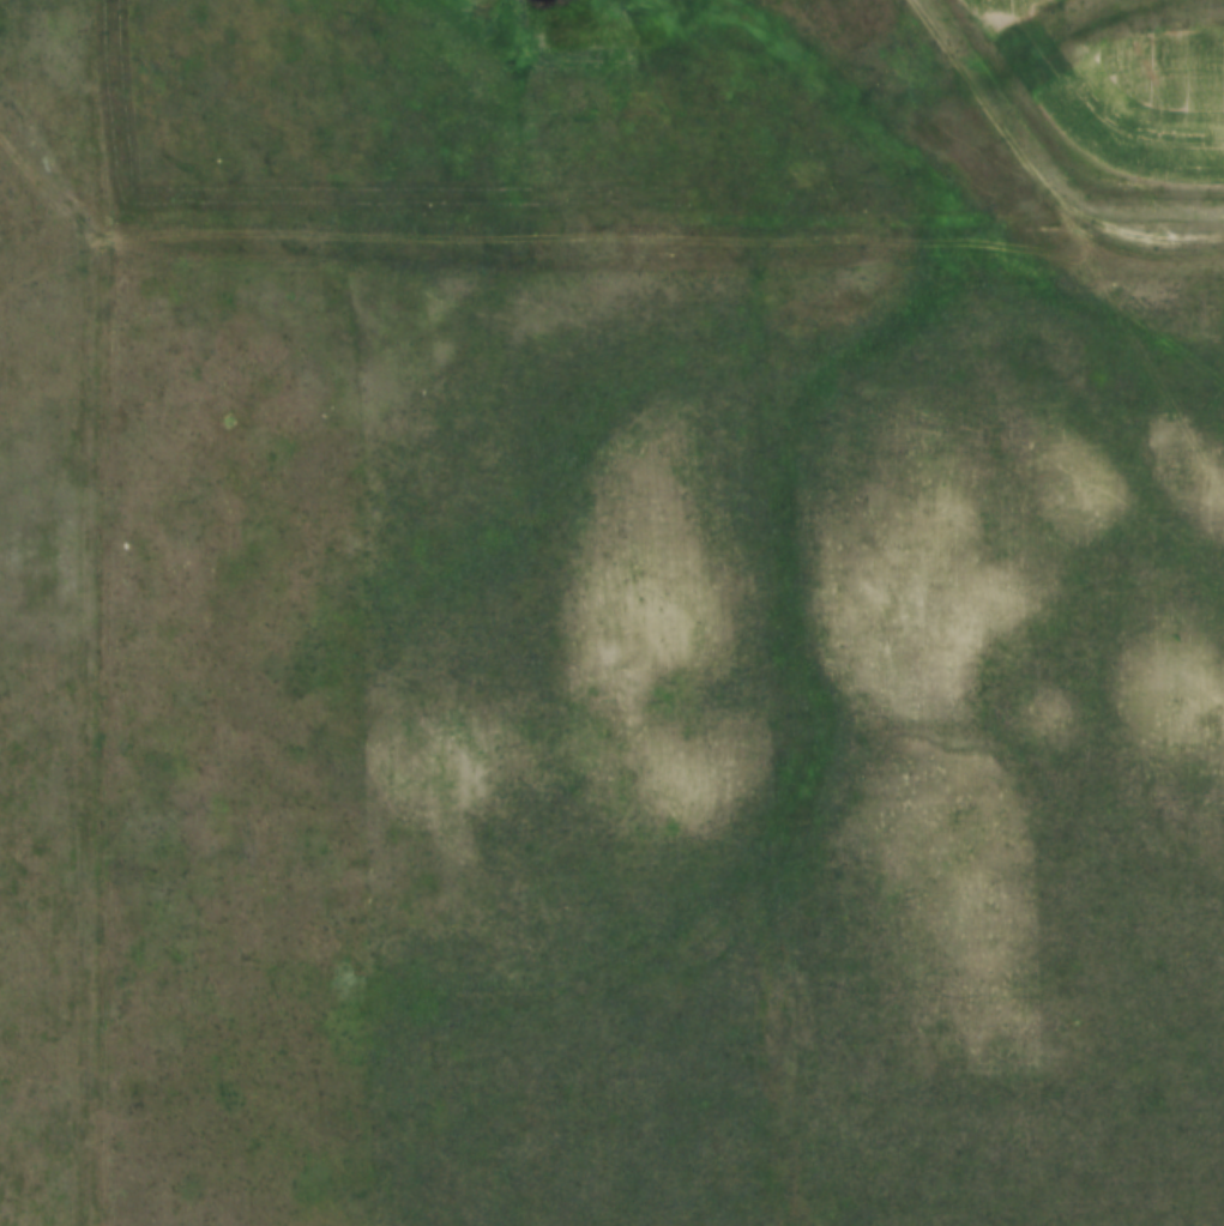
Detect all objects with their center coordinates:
road: (1035, 179)

